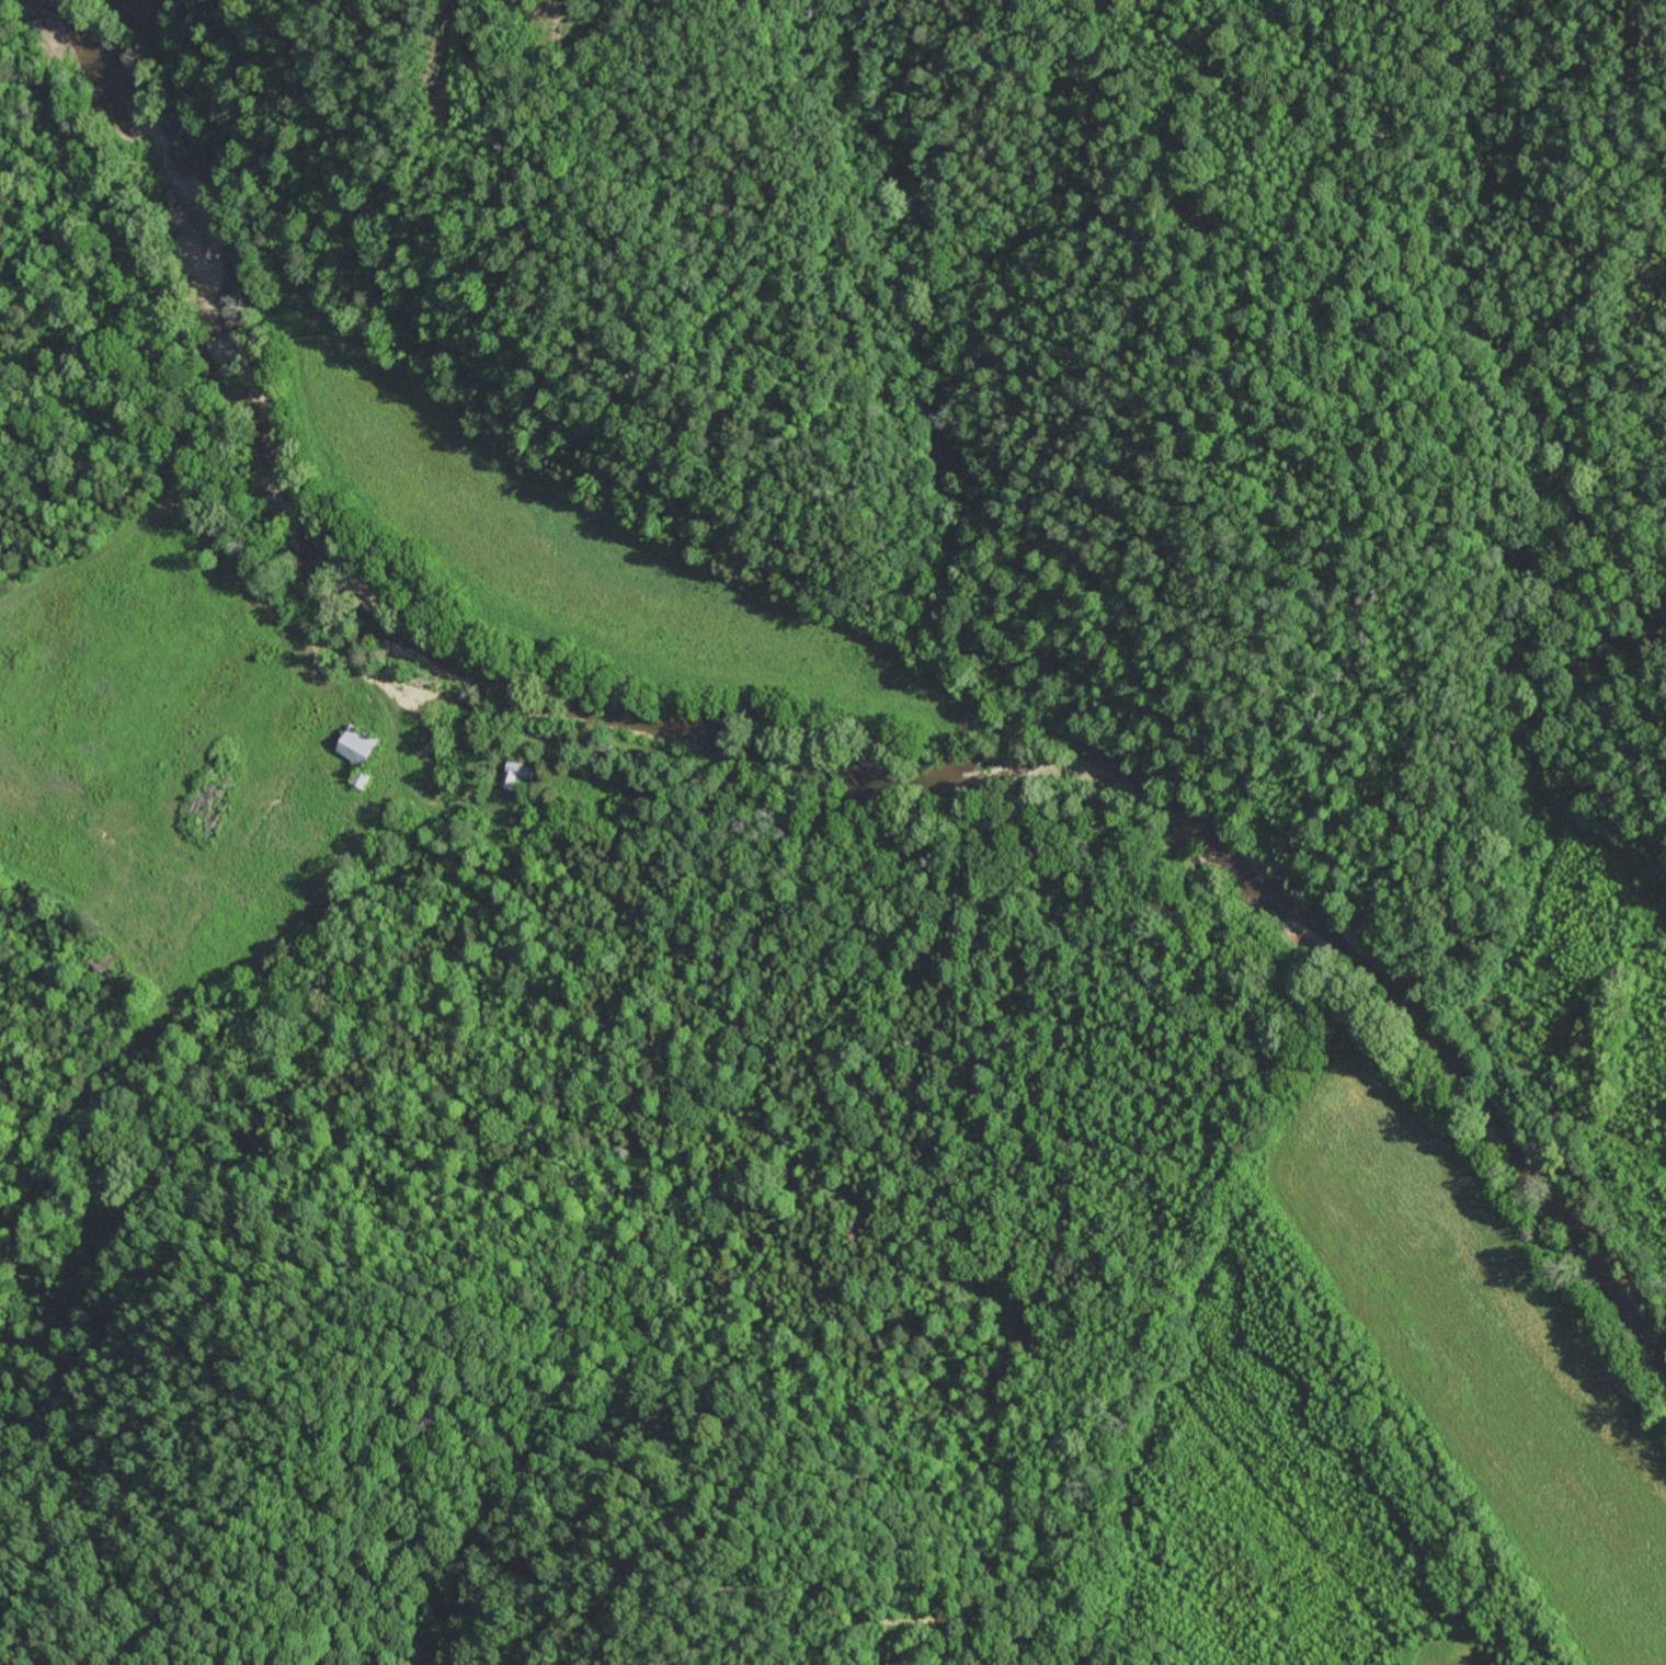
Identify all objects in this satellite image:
road: (795, 688)
building: (351, 748)
building: (514, 780)

